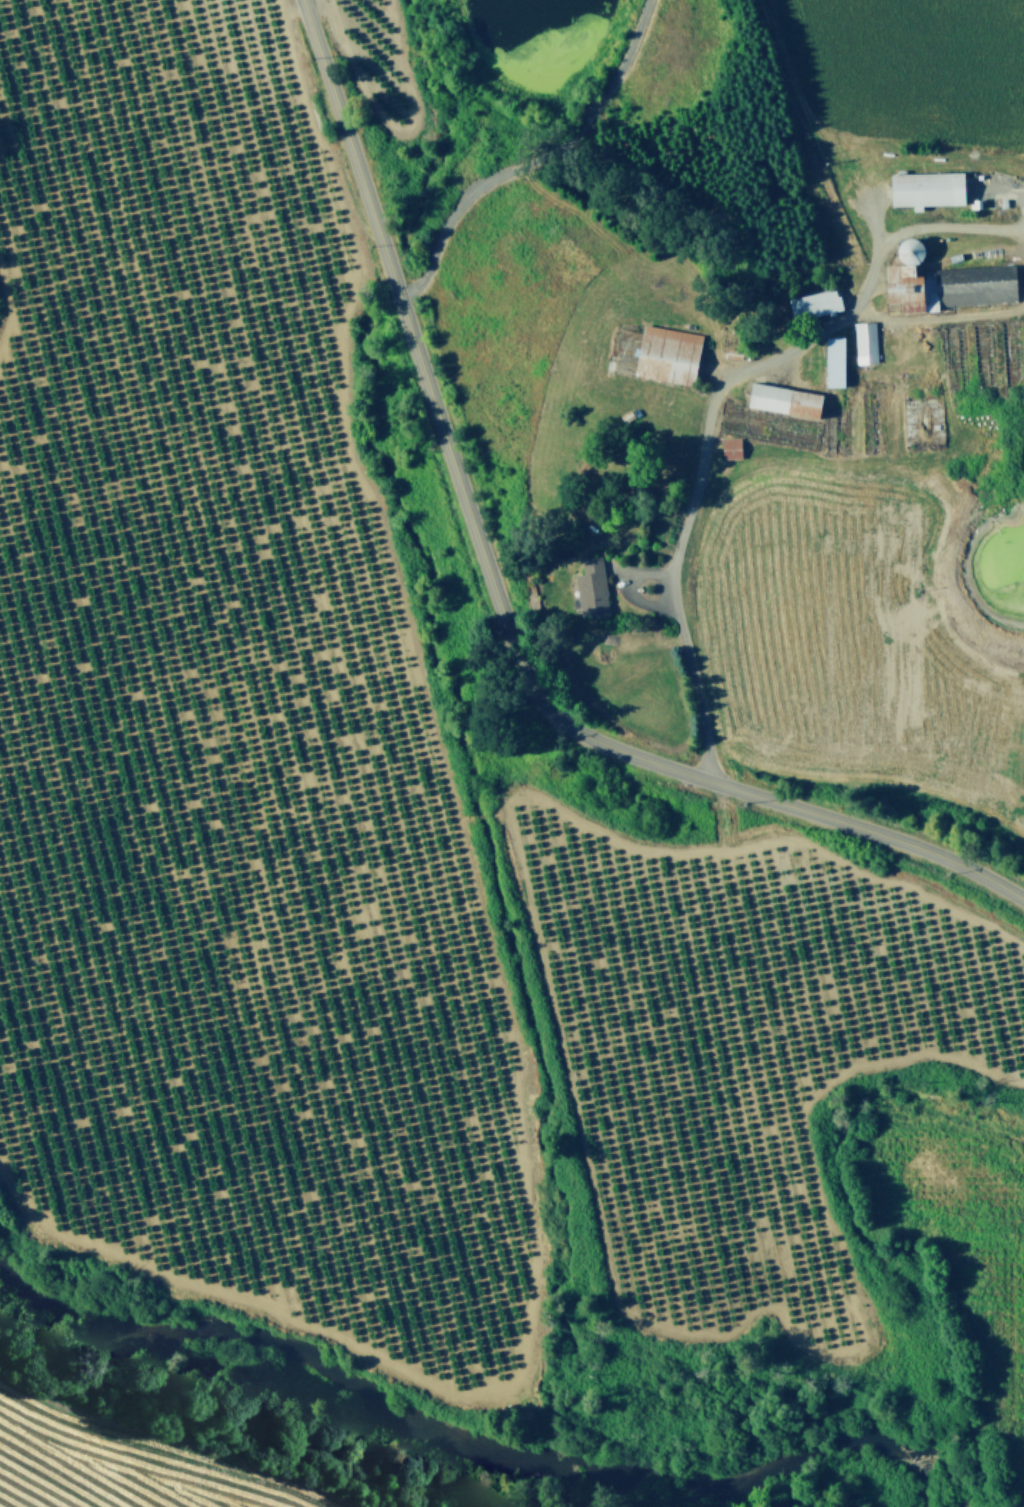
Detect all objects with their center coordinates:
building: (926, 187)
building: (945, 281)
building: (814, 302)
building: (864, 340)
building: (667, 353)
building: (833, 359)
building: (784, 398)
building: (730, 447)
road: (687, 516)
building: (590, 584)
road: (497, 602)
river: (468, 1444)
crop: (116, 1465)

